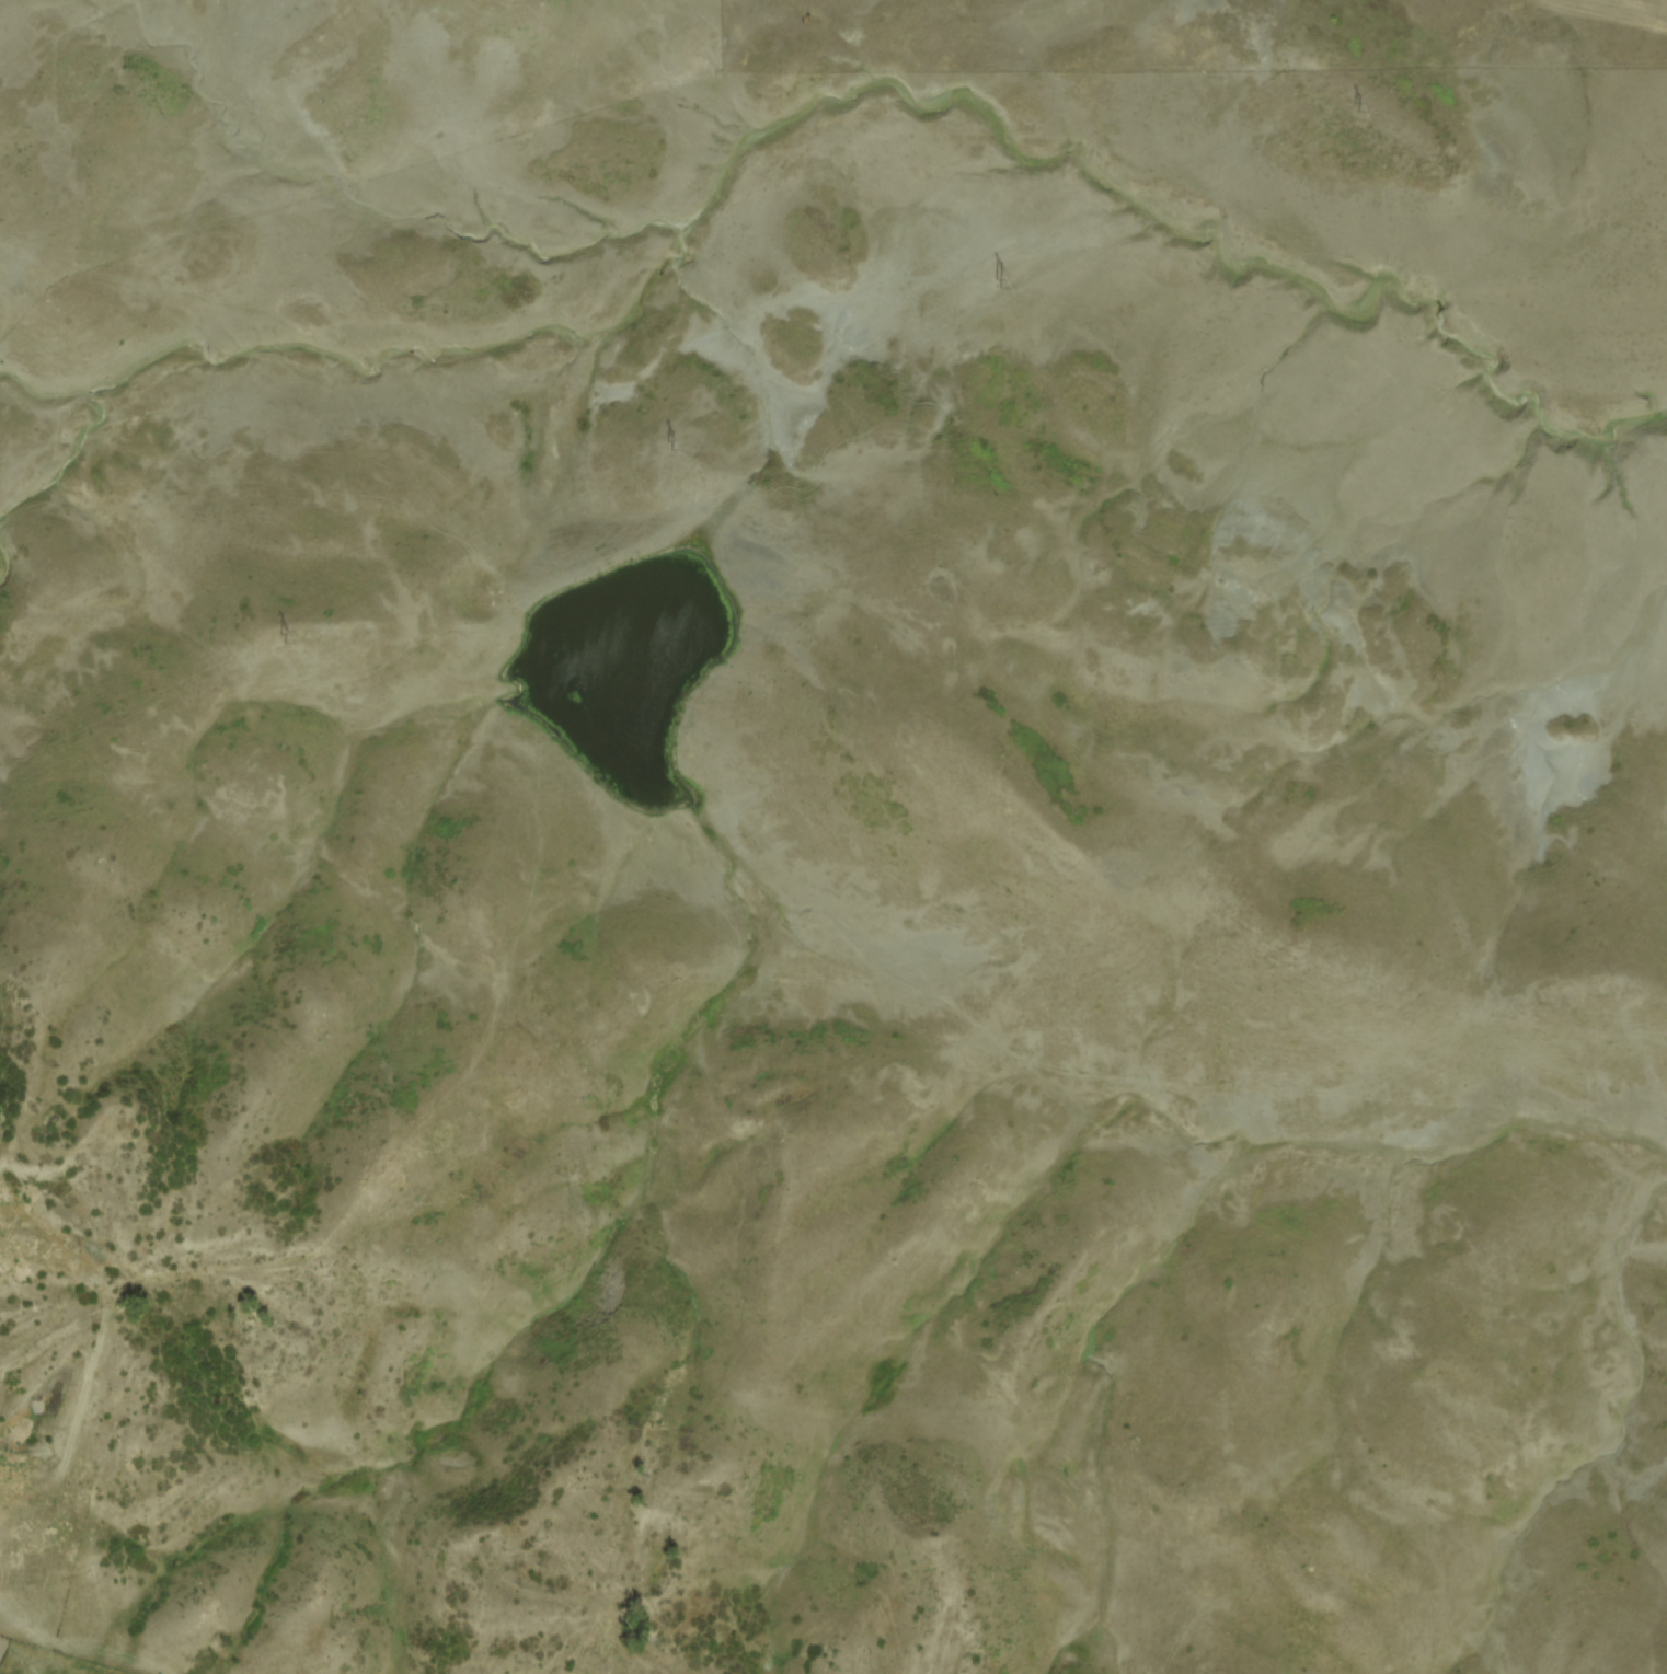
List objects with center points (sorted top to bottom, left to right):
power tower: (1350, 107)
power tower: (996, 282)
power tower: (666, 445)
power tower: (275, 638)

